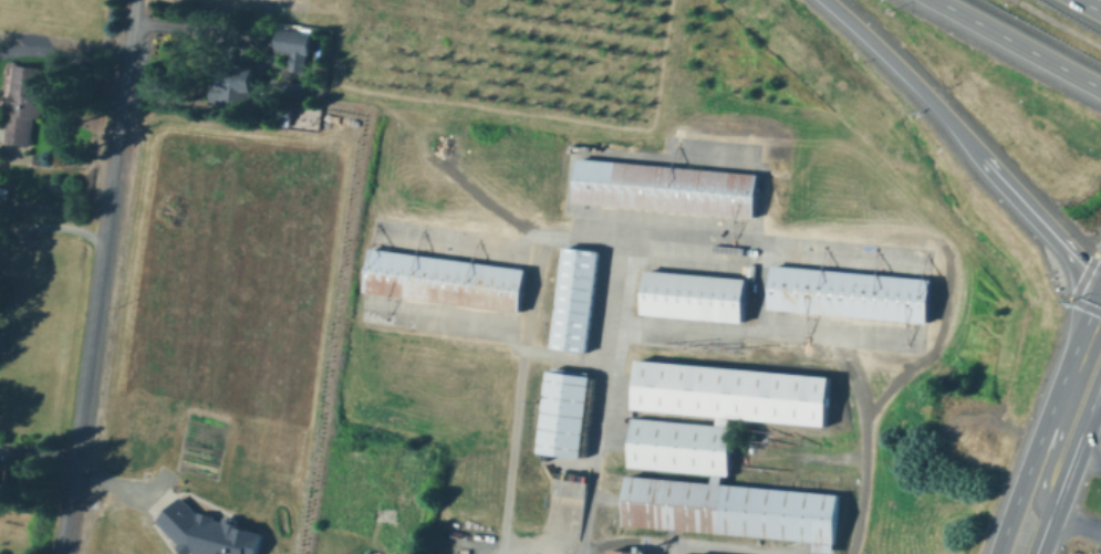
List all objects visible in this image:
road: (1091, 4)
street lamp: (885, 9)
road: (195, 30)
road: (1020, 42)
building: (297, 46)
road: (63, 56)
road: (895, 62)
building: (232, 85)
road: (162, 98)
building: (293, 101)
building: (25, 102)
building: (672, 188)
building: (4, 194)
road: (1028, 203)
road: (53, 227)
road: (715, 244)
road: (457, 245)
road: (98, 276)
building: (449, 281)
road: (1080, 289)
road: (765, 292)
building: (852, 294)
building: (696, 296)
building: (580, 300)
road: (447, 314)
road: (528, 318)
road: (718, 330)
building: (2, 341)
road: (1088, 342)
road: (564, 358)
building: (570, 415)
road: (1099, 437)
road: (1055, 448)
road: (37, 453)
building: (727, 454)
road: (1030, 461)
road: (1087, 461)
road: (569, 462)
road: (1068, 470)
building: (3, 475)
road: (117, 483)
road: (606, 498)
road: (564, 519)
road: (1076, 522)
building: (212, 531)
road: (675, 544)
road: (533, 546)
parking lot: (1099, 550)
building: (627, 552)

